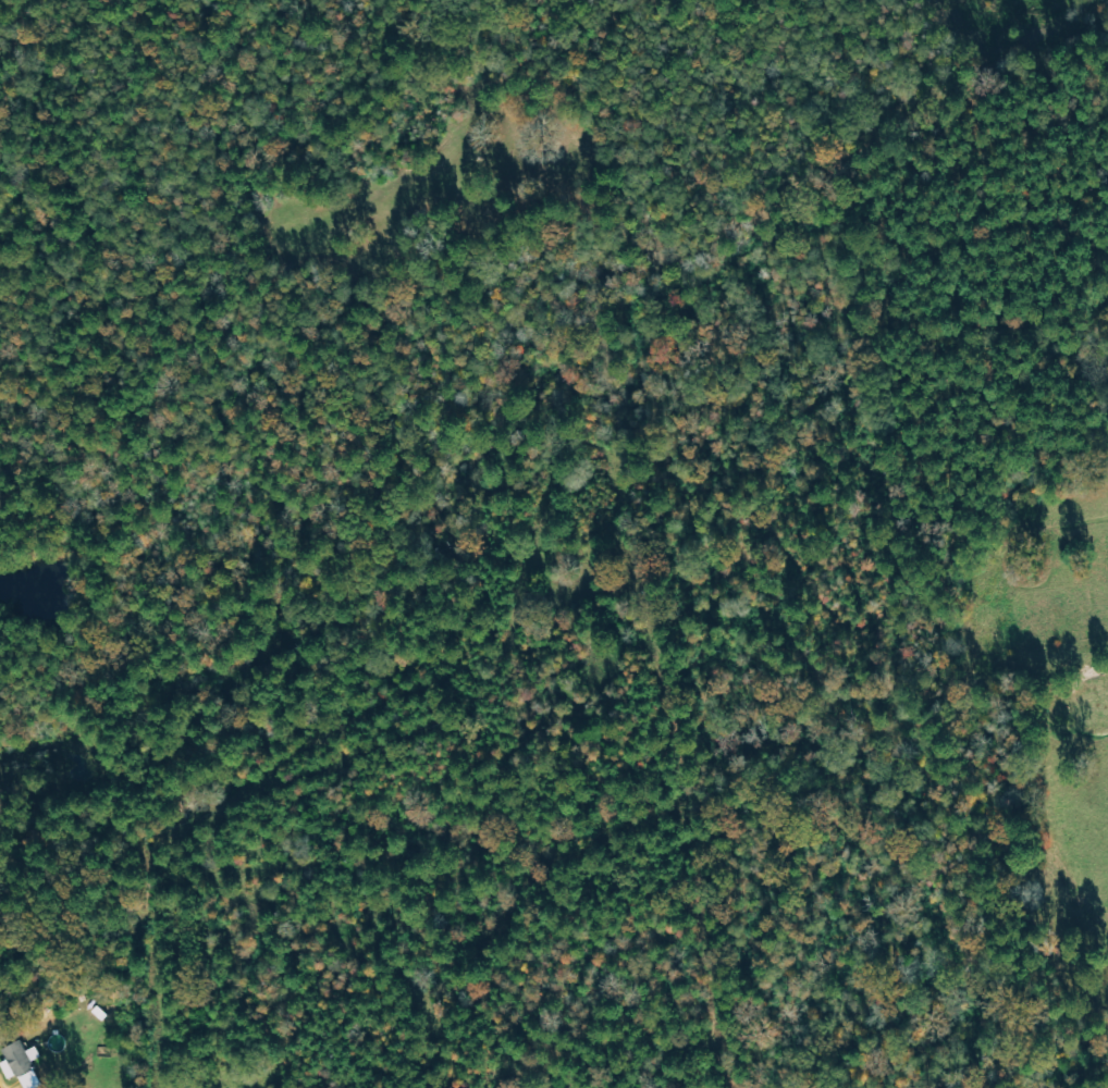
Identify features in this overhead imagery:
building: (24, 1065)

